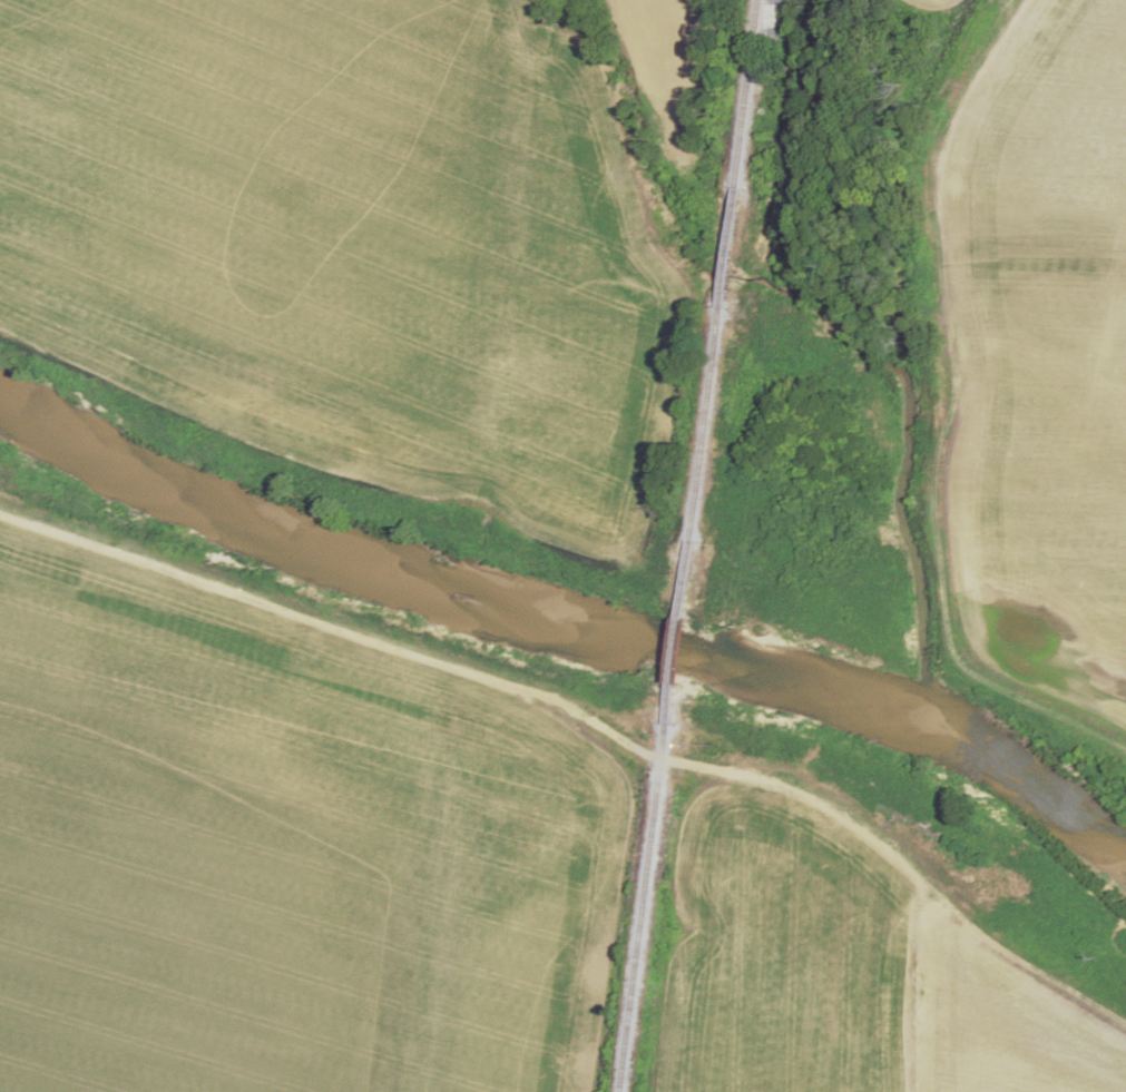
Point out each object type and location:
railway: (723, 272)
river: (564, 631)
railway: (676, 634)
railway: (642, 908)

